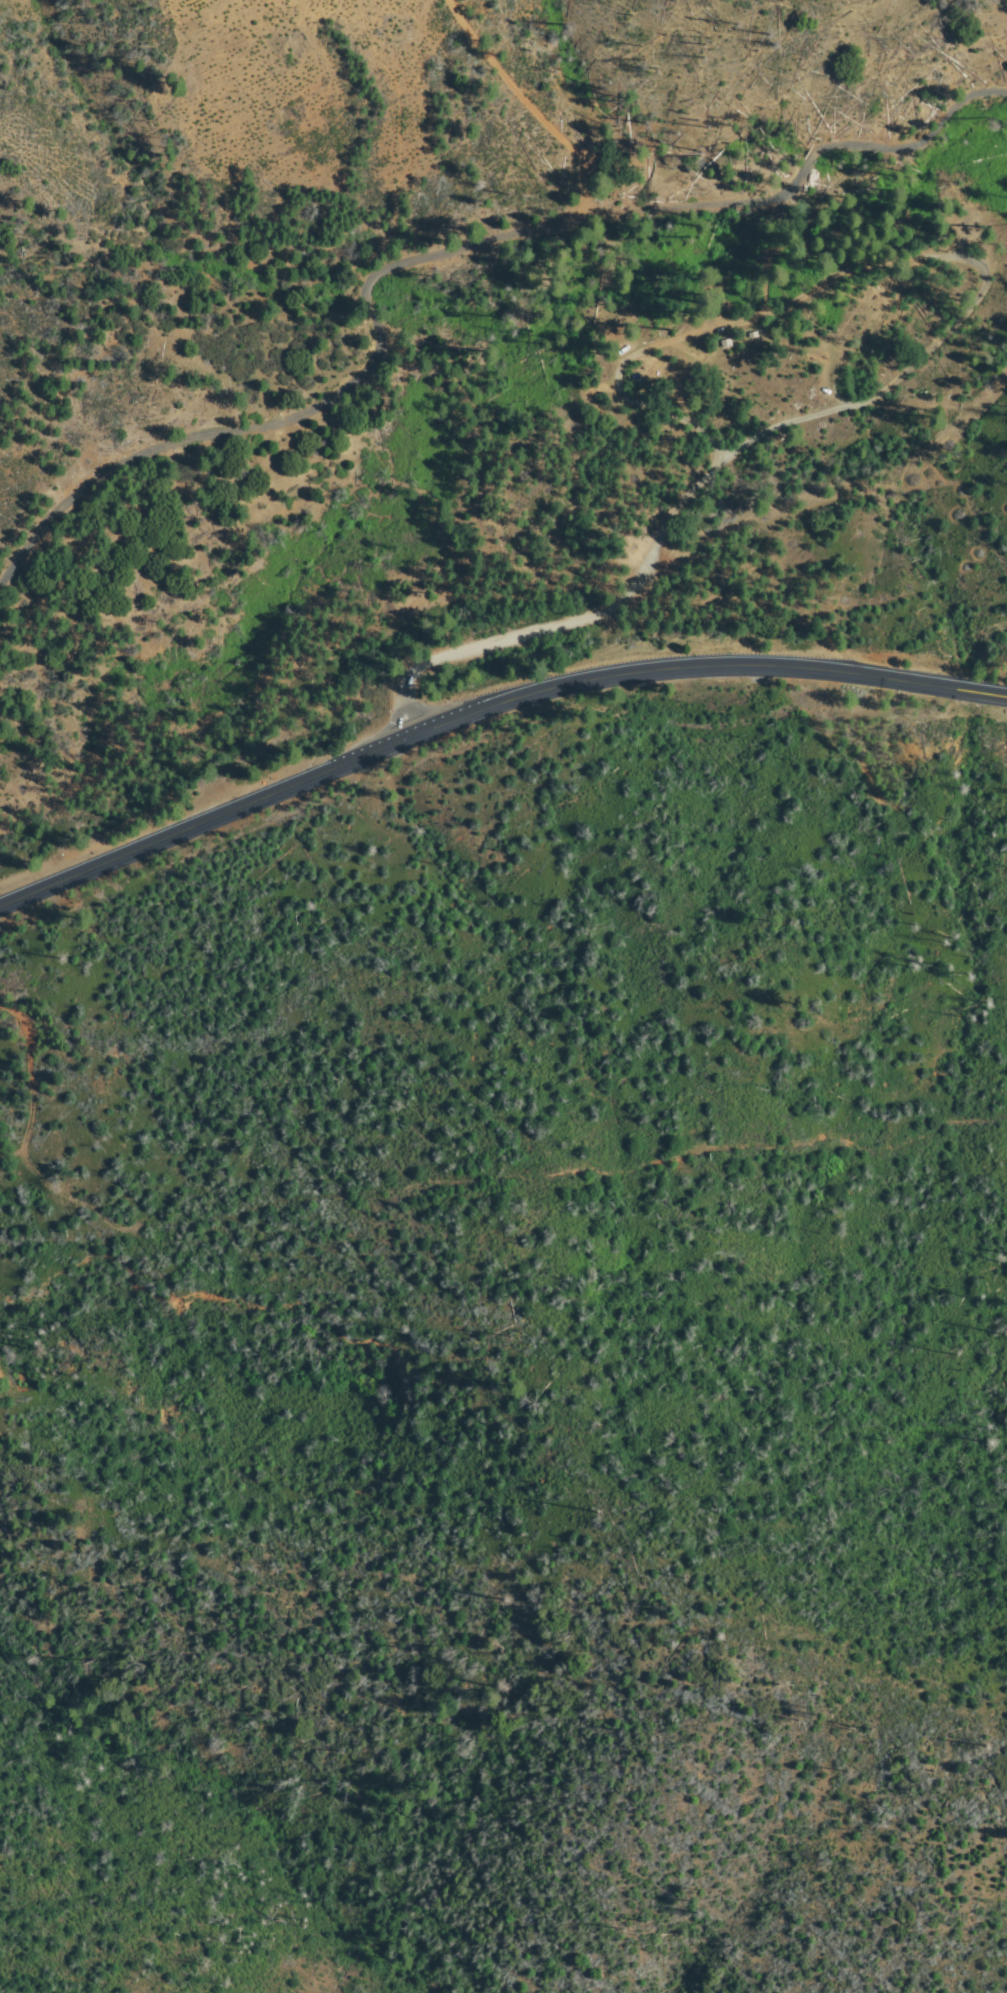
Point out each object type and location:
road: (523, 107)
road: (437, 263)
road: (849, 272)
building: (750, 336)
building: (726, 342)
road: (564, 625)
road: (488, 717)

